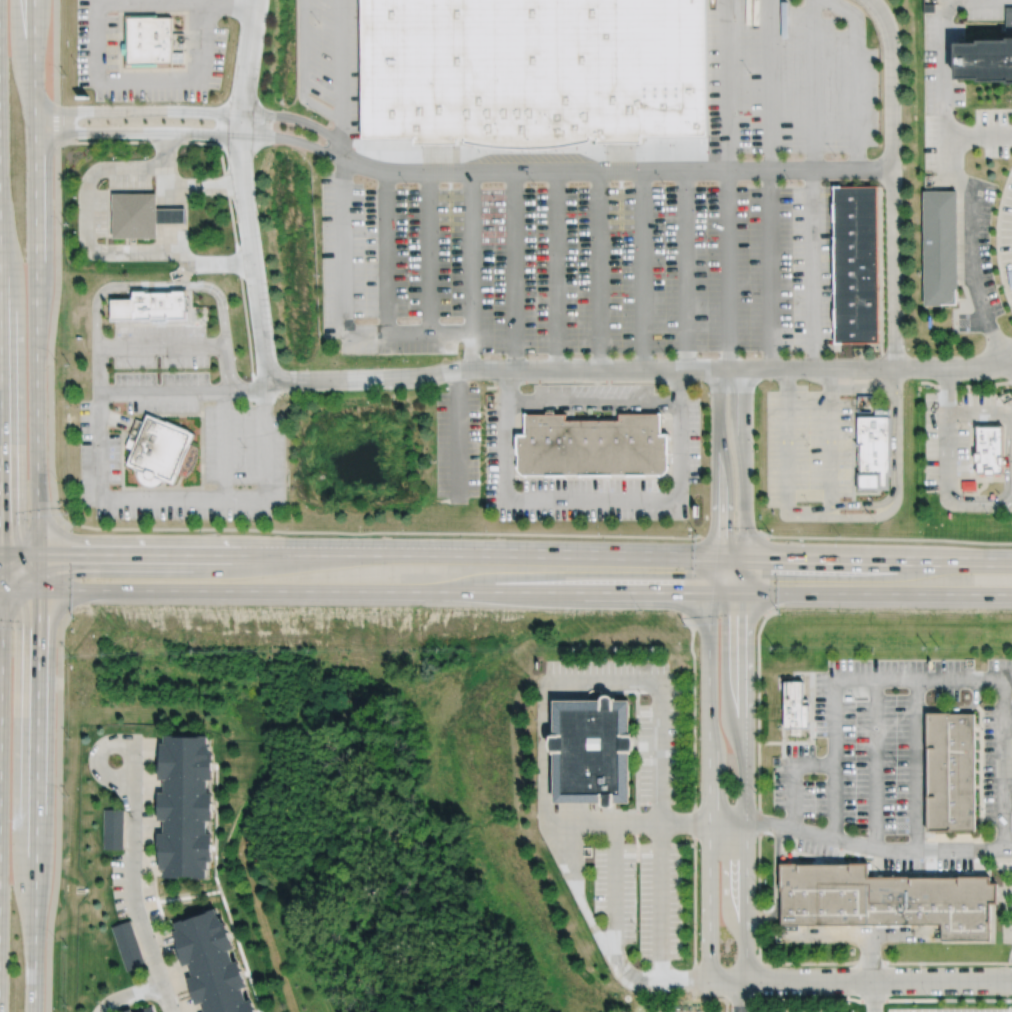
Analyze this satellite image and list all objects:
building: (152, 39)
road: (94, 46)
road: (55, 51)
building: (986, 53)
parking lot: (331, 61)
road: (302, 71)
building: (533, 71)
road: (855, 78)
parking lot: (787, 79)
road: (342, 80)
road: (813, 84)
road: (728, 85)
road: (770, 85)
road: (945, 96)
road: (132, 112)
road: (57, 123)
road: (318, 130)
road: (126, 134)
road: (314, 148)
road: (639, 171)
road: (181, 180)
road: (224, 181)
road: (893, 182)
road: (243, 191)
building: (138, 214)
building: (175, 214)
road: (172, 217)
parking lot: (1007, 236)
road: (998, 237)
road: (971, 242)
building: (939, 246)
road: (96, 251)
road: (386, 252)
road: (427, 252)
building: (854, 263)
parking lot: (575, 266)
road: (727, 268)
road: (813, 268)
road: (687, 269)
road: (771, 269)
road: (471, 270)
road: (514, 270)
road: (556, 270)
road: (597, 270)
road: (641, 270)
road: (156, 286)
building: (153, 304)
road: (343, 312)
road: (51, 337)
road: (160, 347)
road: (1010, 357)
road: (1010, 359)
road: (1010, 364)
road: (808, 368)
road: (952, 368)
road: (494, 369)
road: (965, 385)
road: (185, 390)
road: (592, 399)
road: (978, 411)
parking lot: (245, 422)
road: (946, 430)
road: (455, 432)
parking lot: (951, 433)
road: (787, 437)
road: (829, 438)
parking lot: (457, 441)
road: (223, 443)
parking lot: (806, 446)
building: (597, 447)
building: (157, 450)
building: (988, 450)
building: (872, 451)
parking lot: (589, 452)
road: (745, 462)
road: (721, 480)
road: (1007, 484)
building: (969, 485)
road: (894, 487)
road: (181, 496)
road: (592, 497)
road: (2, 501)
road: (978, 505)
road: (37, 506)
road: (857, 516)
traffic signals: (2, 519)
road: (32, 530)
road: (382, 532)
road: (857, 537)
road: (621, 554)
traffic signals: (71, 555)
road: (115, 555)
traffic signals: (717, 557)
traffic signals: (746, 557)
road: (62, 571)
road: (768, 574)
road: (692, 576)
road: (505, 591)
traffic signals: (712, 593)
traffic signals: (746, 593)
road: (30, 614)
road: (725, 616)
traffic signals: (37, 628)
road: (842, 679)
road: (552, 682)
road: (577, 691)
road: (805, 698)
building: (793, 707)
road: (545, 714)
road: (811, 720)
parking lot: (893, 741)
parking lot: (658, 743)
building: (591, 750)
road: (874, 763)
road: (916, 763)
road: (1002, 764)
road: (746, 769)
building: (948, 769)
road: (793, 775)
road: (709, 786)
road: (545, 787)
building: (185, 806)
road: (726, 809)
road: (578, 812)
road: (60, 814)
road: (643, 822)
building: (112, 828)
road: (727, 835)
road: (962, 837)
road: (930, 847)
road: (877, 848)
parking lot: (897, 849)
road: (930, 865)
road: (899, 873)
road: (776, 883)
road: (132, 885)
parking lot: (641, 894)
road: (615, 897)
building: (884, 898)
road: (759, 911)
road: (854, 933)
road: (896, 933)
building: (127, 945)
road: (1010, 956)
building: (210, 963)
road: (694, 965)
road: (860, 981)
road: (128, 994)
road: (738, 996)
road: (874, 996)
building: (145, 1009)
parking lot: (952, 1009)
building: (126, 1010)
parking lot: (738, 1011)

